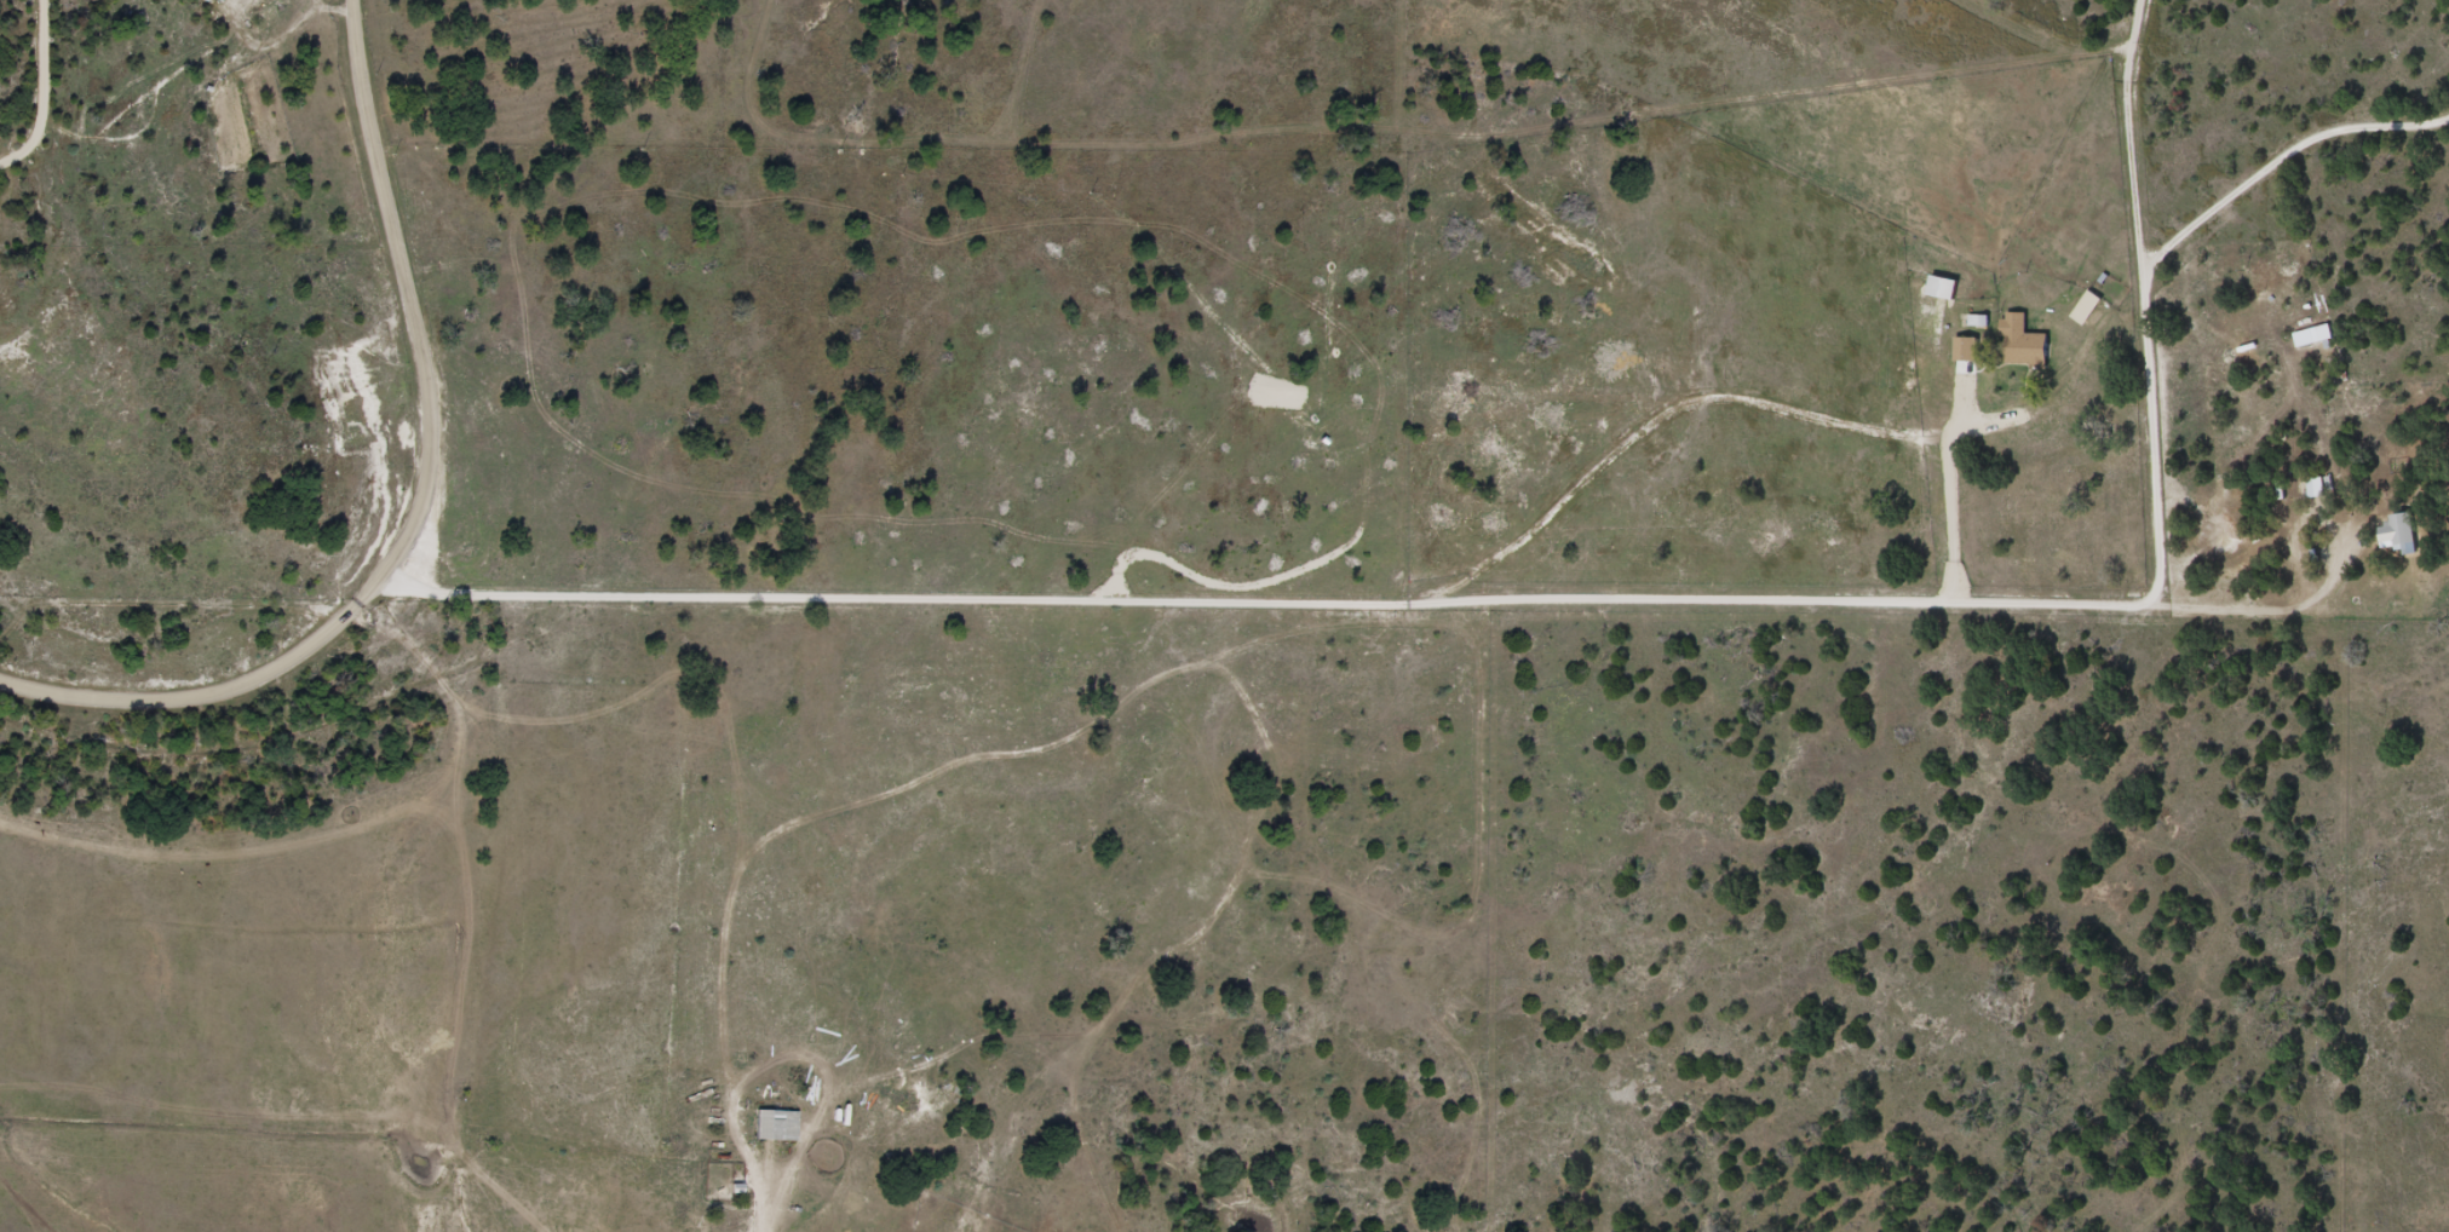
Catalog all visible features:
building: (218, 0)
building: (2086, 309)
building: (2020, 344)
road: (412, 514)
building: (2398, 531)
road: (1512, 553)
road: (1924, 606)

